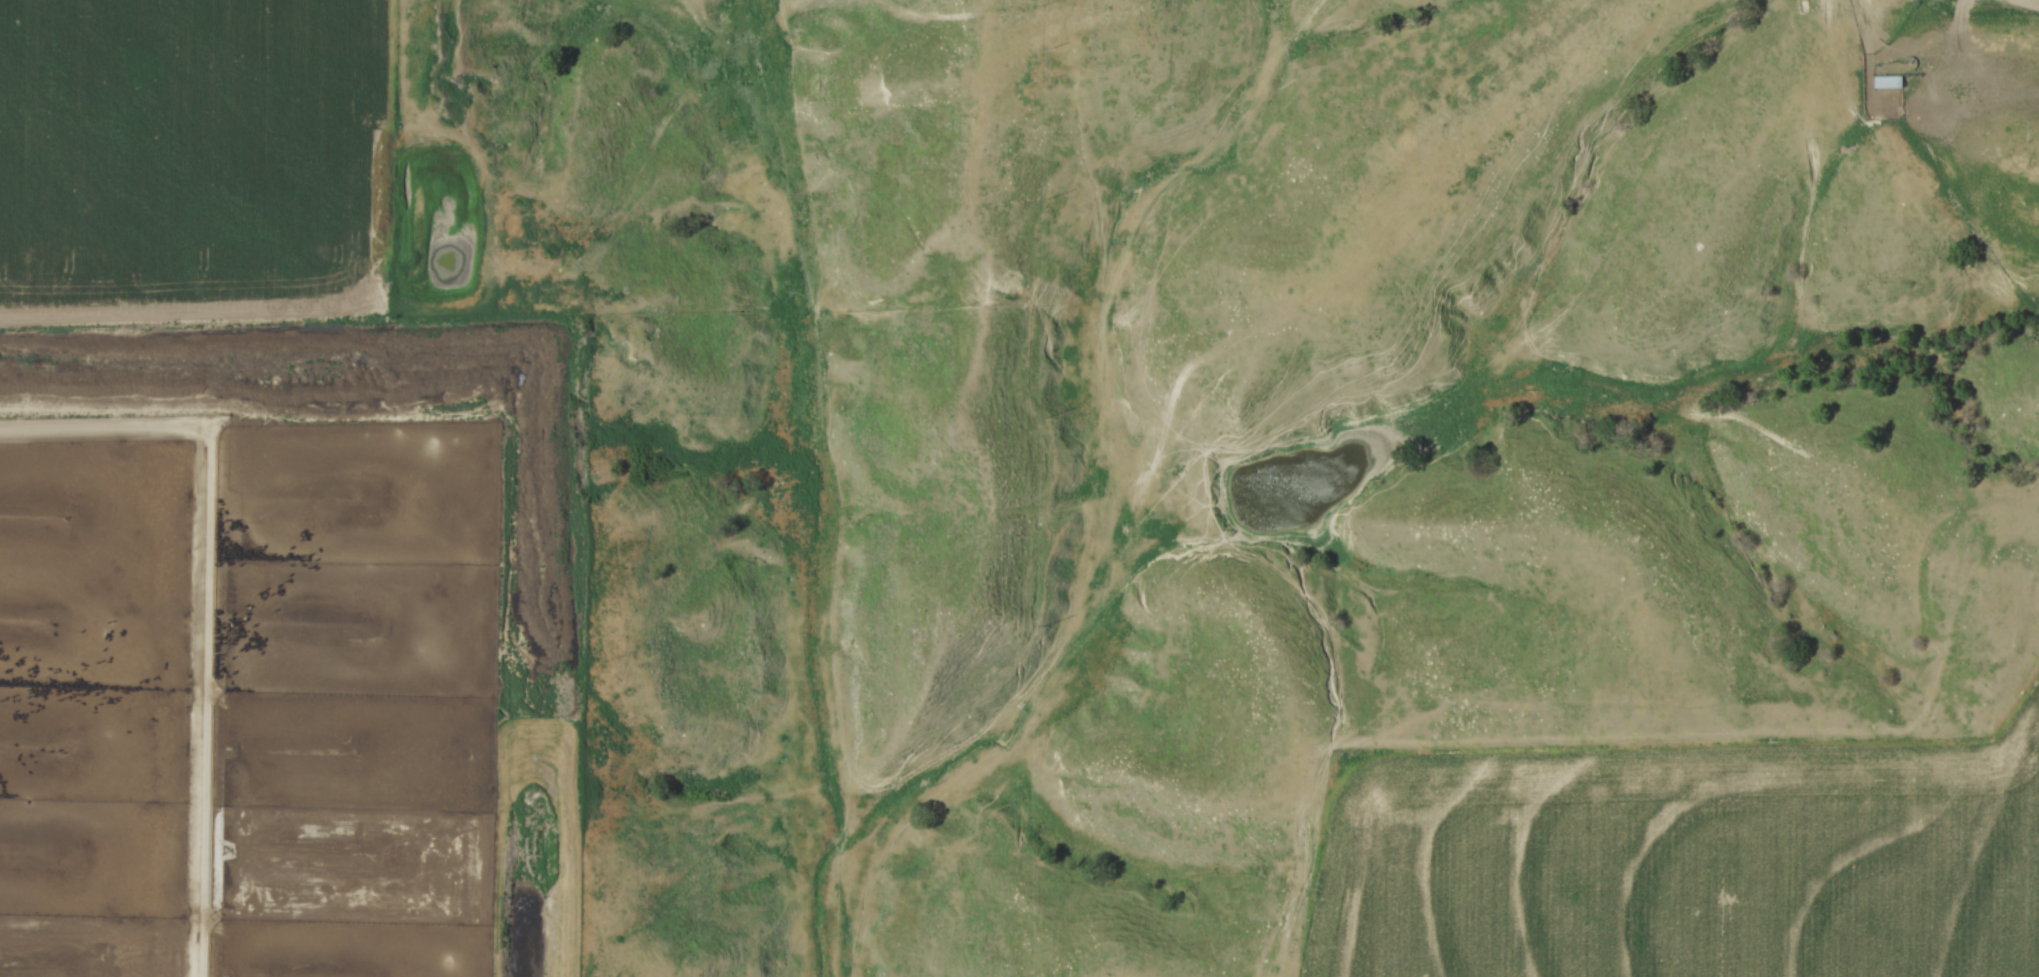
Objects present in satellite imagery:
building: (1887, 81)
crop: (195, 146)
crop: (1687, 861)

